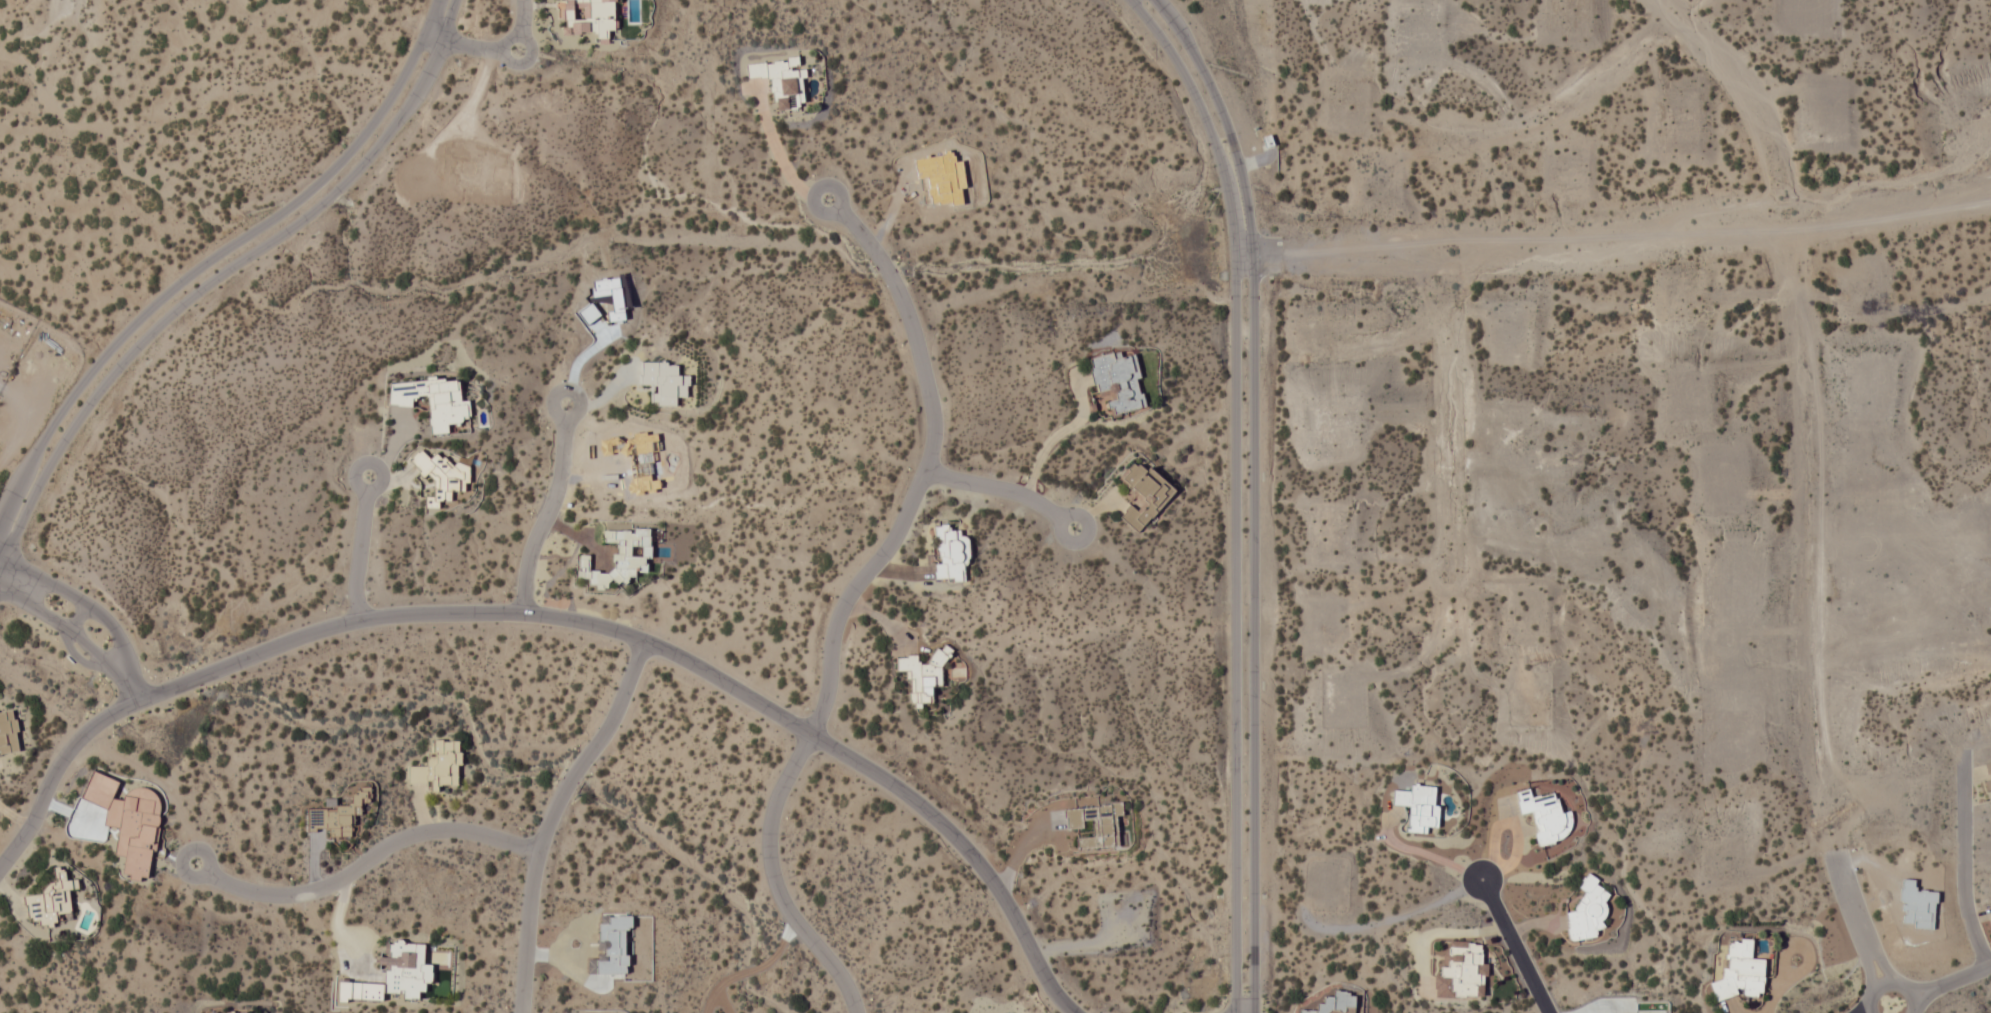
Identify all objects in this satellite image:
road: (494, 49)
building: (780, 81)
road: (778, 158)
road: (216, 254)
road: (221, 272)
building: (1118, 381)
building: (663, 382)
building: (433, 400)
building: (443, 477)
road: (1008, 492)
building: (1143, 493)
road: (1240, 493)
road: (1257, 494)
road: (553, 511)
road: (363, 548)
building: (950, 554)
building: (621, 556)
road: (11, 579)
road: (850, 600)
road: (104, 616)
road: (561, 619)
road: (83, 640)
building: (923, 676)
building: (8, 731)
building: (438, 765)
building: (1988, 778)
building: (1418, 806)
road: (550, 816)
building: (1545, 816)
road: (365, 861)
road: (1964, 863)
building: (52, 900)
building: (1588, 909)
road: (1864, 934)
road: (1515, 947)
building: (1461, 970)
building: (1740, 972)
road: (1941, 986)
building: (1334, 1002)
road: (1885, 1010)
building: (230, 1012)

